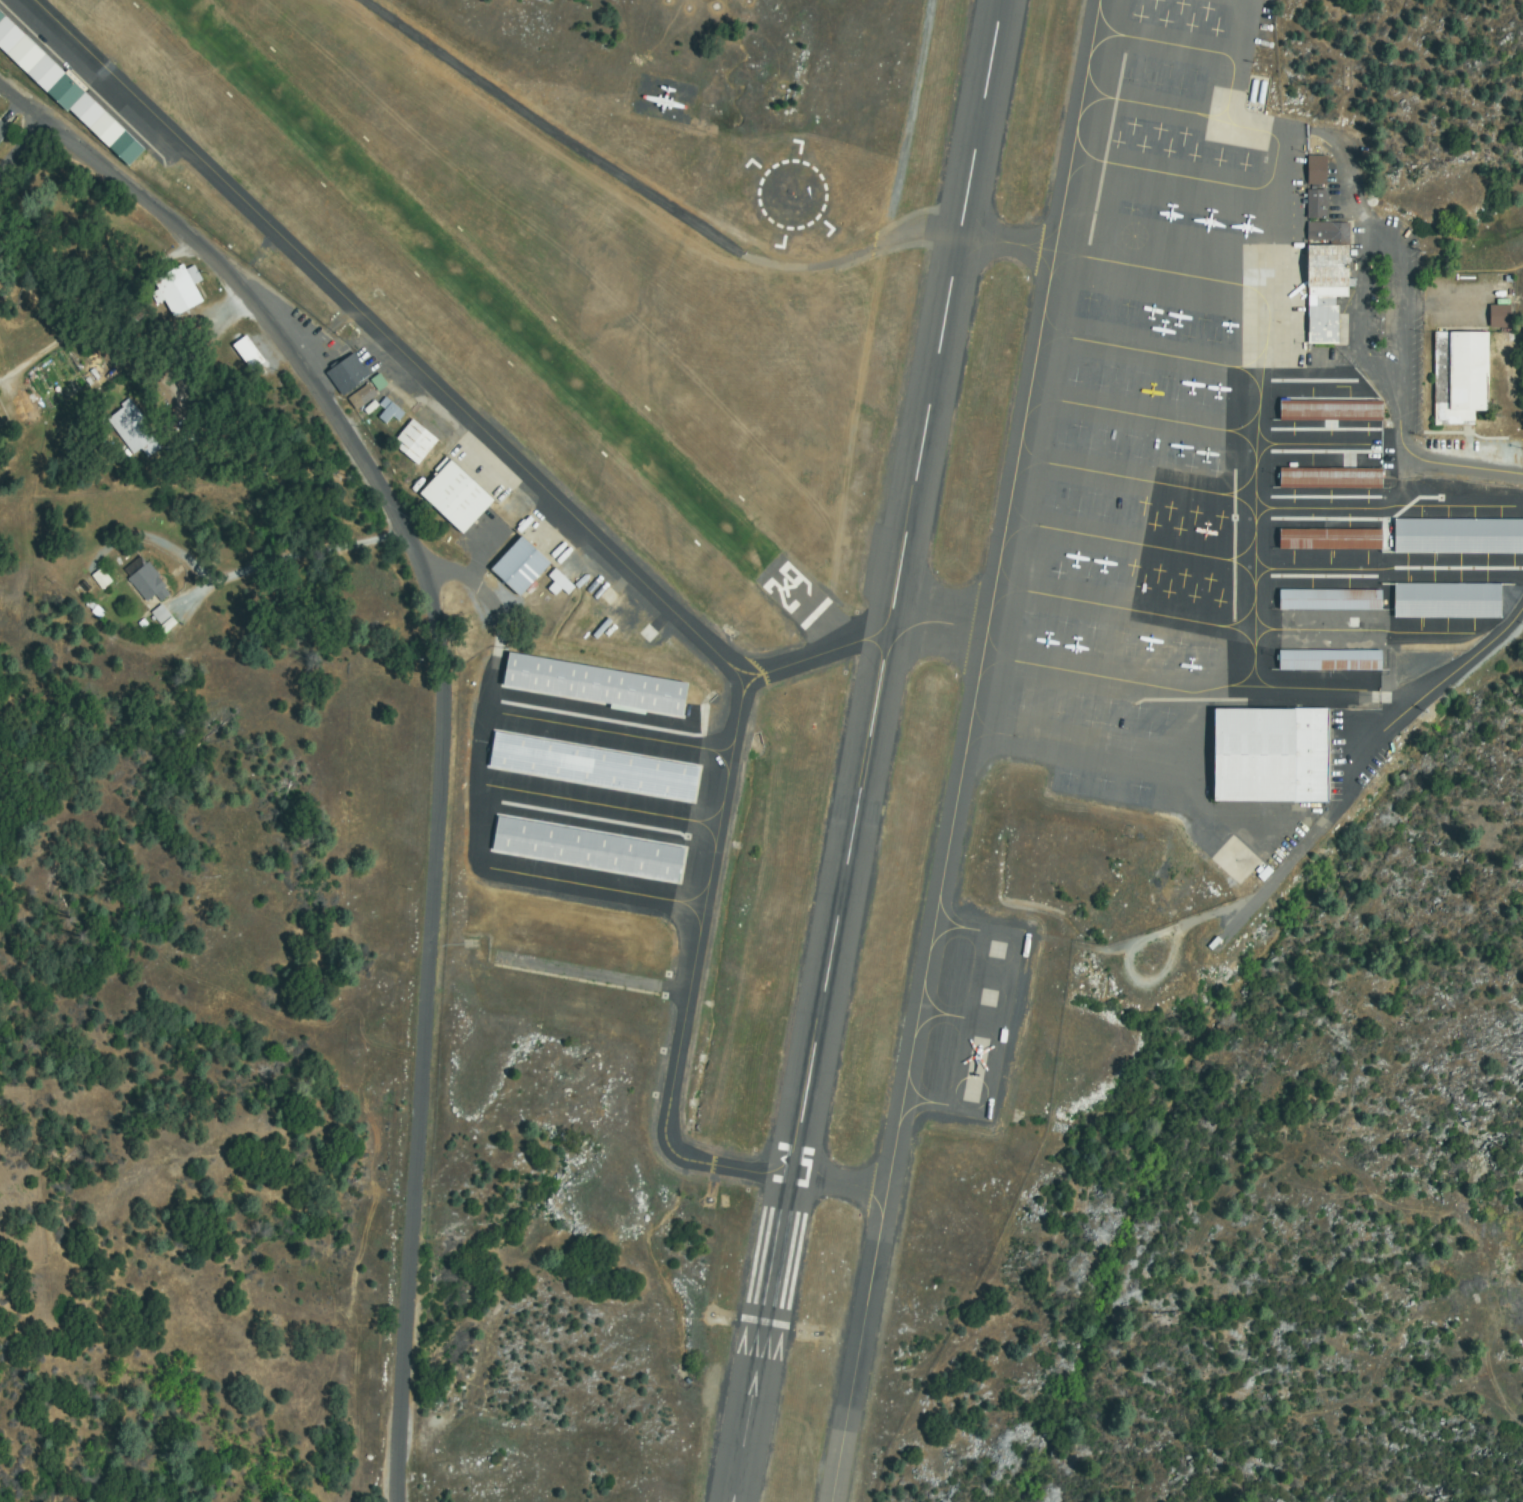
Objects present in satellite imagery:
building: (66, 89)
storage tank: (1254, 90)
storage tank: (1263, 91)
building: (4, 131)
road: (35, 168)
building: (1316, 170)
helipad: (793, 195)
building: (1316, 204)
airport taxiway: (1098, 259)
building: (1330, 279)
building: (178, 290)
airport runway: (493, 304)
building: (1500, 317)
building: (248, 353)
building: (351, 372)
building: (1460, 378)
building: (381, 382)
building: (364, 396)
building: (392, 409)
building: (1332, 411)
airport taxiway: (477, 421)
building: (133, 431)
building: (417, 441)
road: (1469, 472)
building: (1332, 478)
building: (459, 497)
building: (1460, 535)
building: (1332, 539)
building: (523, 566)
building: (99, 578)
building: (561, 583)
building: (149, 584)
building: (1331, 599)
building: (1449, 600)
airport: (856, 609)
building: (158, 613)
building: (164, 625)
airport taxiway: (833, 625)
building: (1332, 660)
building: (599, 684)
road: (443, 710)
airport runway: (864, 751)
building: (1273, 754)
building: (596, 766)
building: (590, 849)
airport taxiway: (929, 949)
airport taxiway: (858, 1348)

